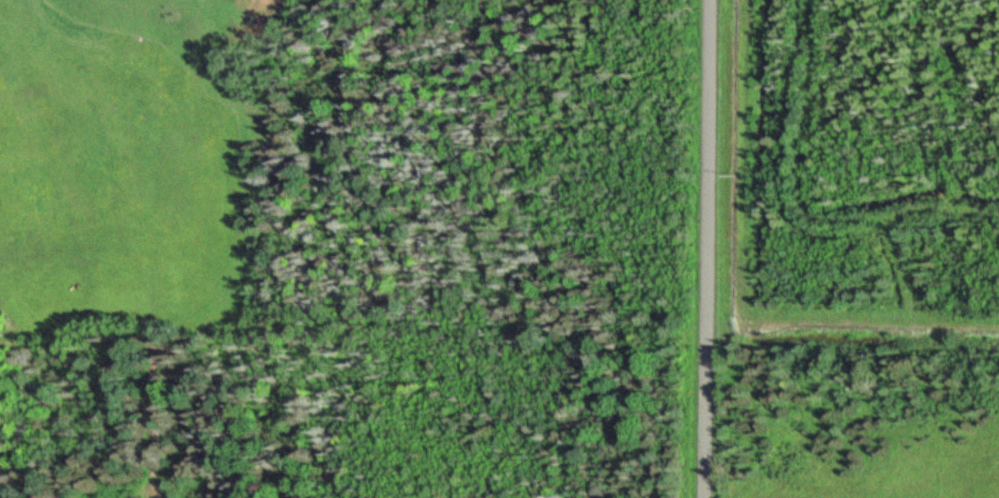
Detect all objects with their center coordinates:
road: (712, 249)

